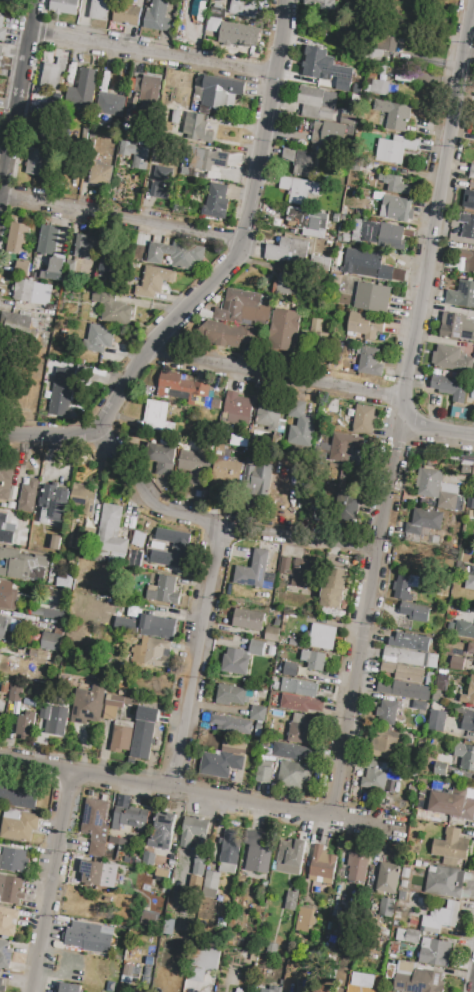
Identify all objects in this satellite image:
building: (322, 4)
building: (64, 6)
building: (245, 8)
building: (101, 10)
building: (199, 11)
building: (126, 15)
building: (158, 16)
building: (1, 20)
building: (231, 37)
building: (387, 43)
road: (154, 51)
building: (1, 53)
building: (326, 68)
building: (53, 74)
building: (380, 87)
building: (82, 90)
building: (217, 92)
building: (150, 95)
road: (18, 97)
building: (318, 103)
building: (111, 105)
building: (394, 116)
building: (347, 118)
building: (198, 129)
building: (332, 133)
building: (395, 149)
building: (137, 154)
building: (209, 161)
building: (37, 162)
building: (303, 162)
building: (98, 171)
building: (472, 172)
building: (163, 182)
building: (388, 184)
building: (299, 189)
building: (468, 199)
building: (215, 201)
building: (396, 209)
road: (122, 217)
building: (307, 223)
building: (467, 225)
building: (18, 238)
building: (391, 238)
building: (48, 240)
building: (86, 246)
building: (288, 251)
building: (178, 255)
building: (467, 259)
building: (107, 262)
building: (366, 264)
building: (22, 268)
building: (55, 268)
road: (210, 278)
building: (157, 284)
building: (288, 285)
building: (32, 291)
building: (462, 295)
building: (372, 298)
building: (113, 309)
building: (234, 322)
building: (18, 323)
building: (365, 325)
building: (457, 327)
building: (285, 330)
building: (99, 339)
building: (451, 359)
building: (370, 362)
road: (315, 387)
building: (450, 387)
building: (183, 389)
building: (63, 393)
building: (238, 406)
building: (157, 416)
building: (270, 417)
road: (401, 417)
building: (363, 420)
building: (301, 425)
building: (338, 452)
building: (161, 458)
building: (195, 467)
building: (226, 472)
building: (258, 479)
building: (6, 480)
building: (429, 483)
building: (29, 496)
building: (85, 498)
building: (55, 504)
building: (348, 508)
building: (427, 520)
building: (13, 524)
road: (218, 527)
building: (112, 530)
building: (5, 531)
building: (24, 539)
building: (56, 542)
building: (173, 548)
building: (22, 566)
building: (253, 570)
building: (298, 572)
building: (470, 580)
building: (66, 581)
building: (405, 587)
building: (334, 589)
building: (165, 591)
building: (124, 594)
building: (8, 596)
building: (413, 612)
building: (47, 613)
building: (248, 621)
building: (125, 624)
building: (5, 627)
building: (158, 627)
building: (464, 629)
building: (272, 634)
building: (323, 637)
building: (52, 642)
building: (410, 642)
building: (256, 648)
building: (470, 649)
building: (152, 652)
building: (39, 655)
building: (406, 657)
road: (195, 660)
building: (313, 660)
building: (236, 662)
building: (457, 664)
building: (290, 669)
building: (404, 672)
building: (299, 687)
building: (5, 688)
building: (401, 690)
building: (469, 694)
building: (15, 695)
building: (230, 695)
building: (115, 701)
building: (89, 704)
building: (300, 704)
building: (0, 711)
building: (387, 713)
building: (466, 719)
building: (54, 720)
building: (437, 722)
building: (26, 725)
building: (230, 725)
building: (305, 731)
building: (143, 733)
building: (122, 737)
building: (384, 745)
building: (291, 753)
building: (464, 757)
building: (223, 760)
building: (263, 774)
building: (292, 775)
building: (374, 776)
building: (16, 794)
road: (195, 796)
building: (453, 804)
building: (94, 817)
building: (132, 818)
building: (17, 826)
building: (193, 830)
building: (162, 832)
building: (451, 847)
building: (231, 851)
building: (259, 851)
building: (290, 857)
building: (13, 860)
building: (322, 865)
building: (198, 868)
building: (358, 868)
building: (92, 872)
building: (388, 879)
building: (211, 882)
building: (444, 882)
road: (52, 883)
building: (11, 889)
building: (291, 901)
building: (387, 908)
building: (435, 918)
building: (303, 920)
building: (8, 922)
building: (169, 927)
building: (408, 936)
building: (89, 937)
building: (272, 948)
building: (435, 953)
building: (5, 955)
building: (247, 956)
building: (203, 958)
building: (0, 973)
building: (417, 979)
building: (362, 980)
building: (1, 985)
building: (69, 987)
building: (268, 989)
building: (303, 989)

